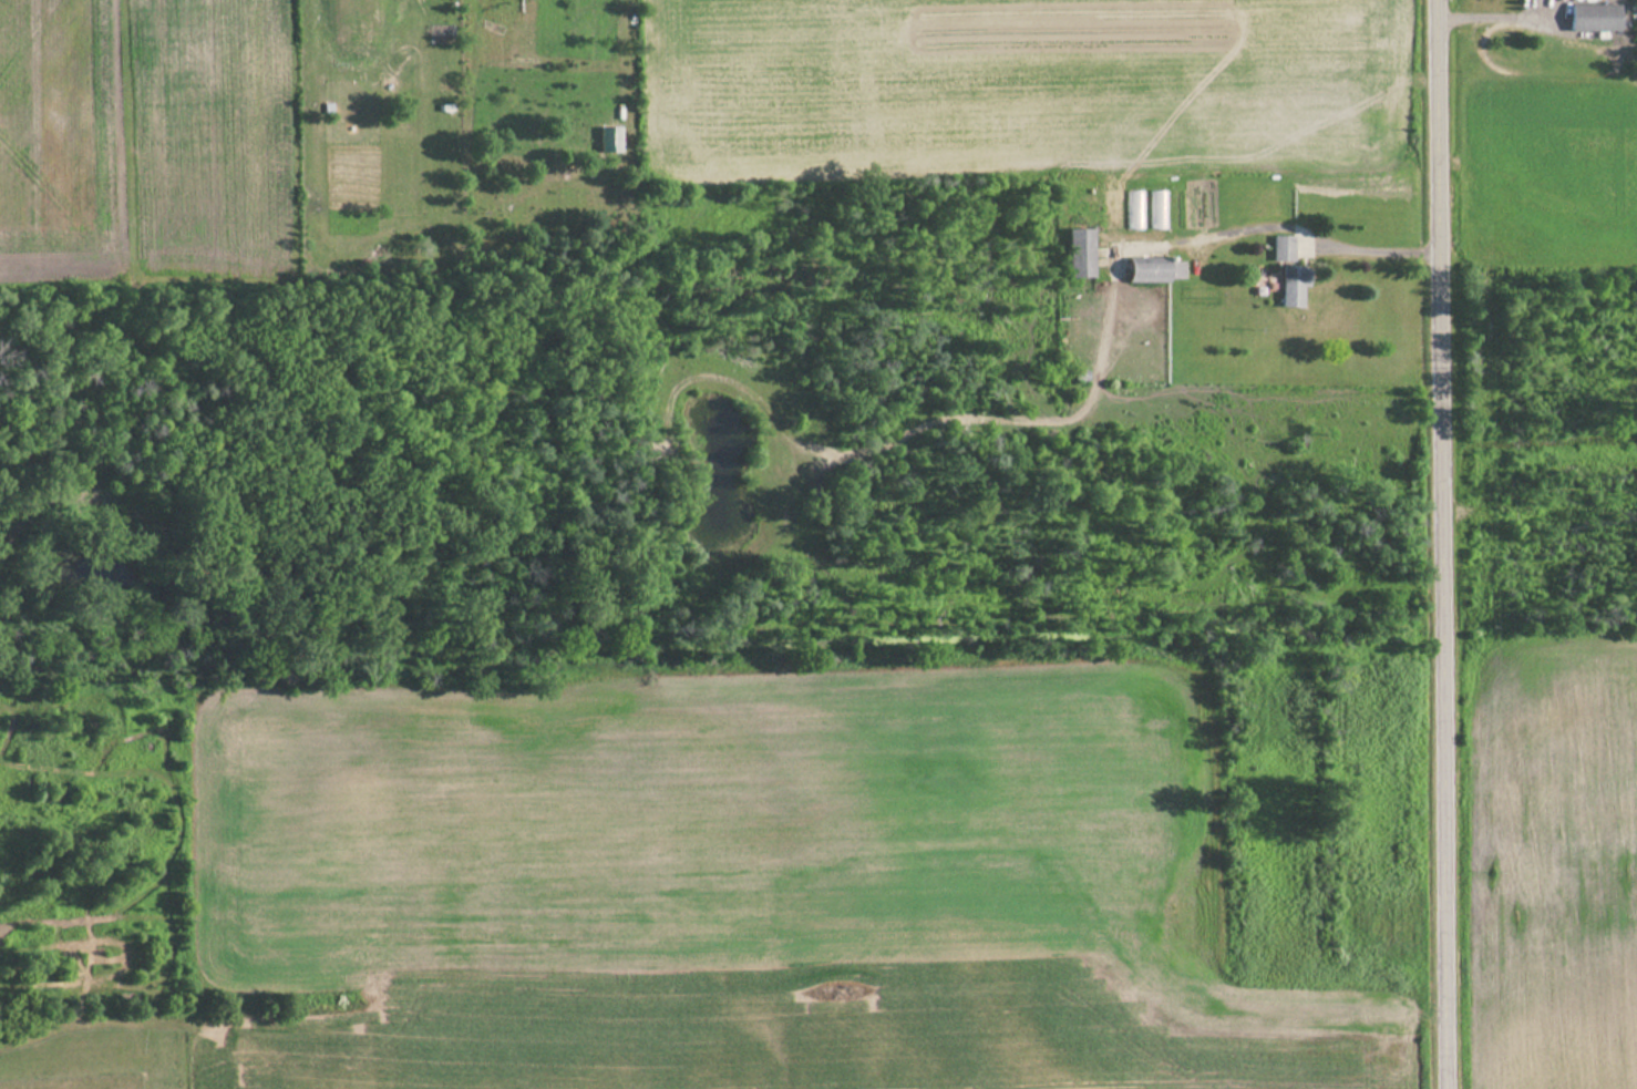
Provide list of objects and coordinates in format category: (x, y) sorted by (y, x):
building: (1593, 17)
building: (1111, 209)
building: (1133, 209)
building: (1156, 209)
building: (1281, 247)
building: (1079, 253)
building: (1154, 269)
building: (1291, 285)
road: (1441, 544)

